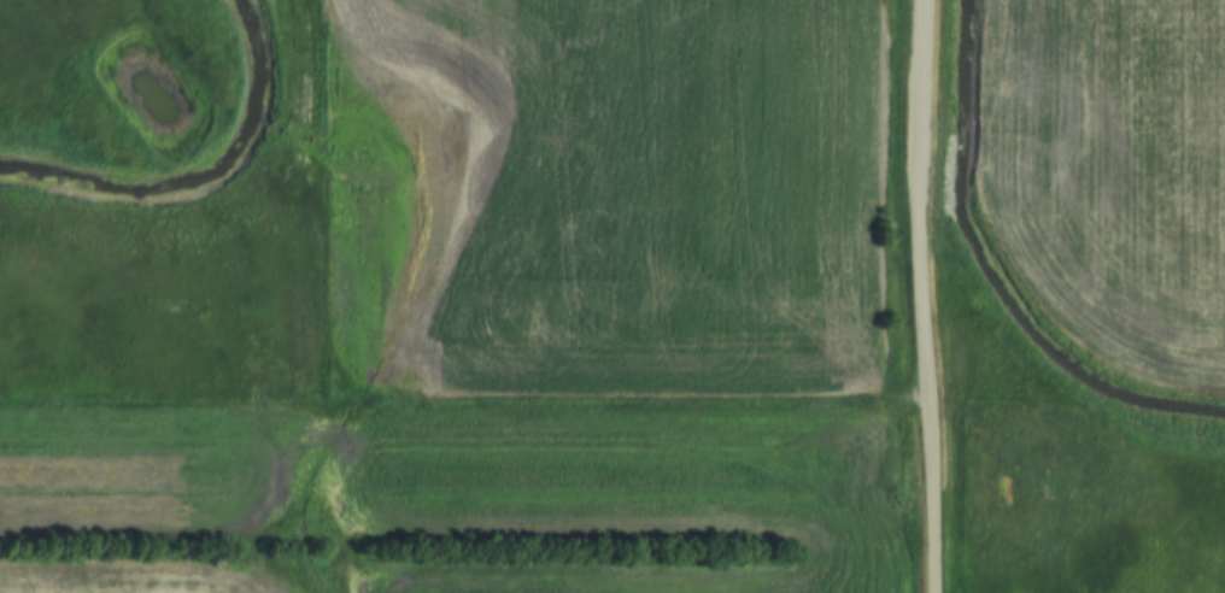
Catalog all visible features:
road: (926, 296)

